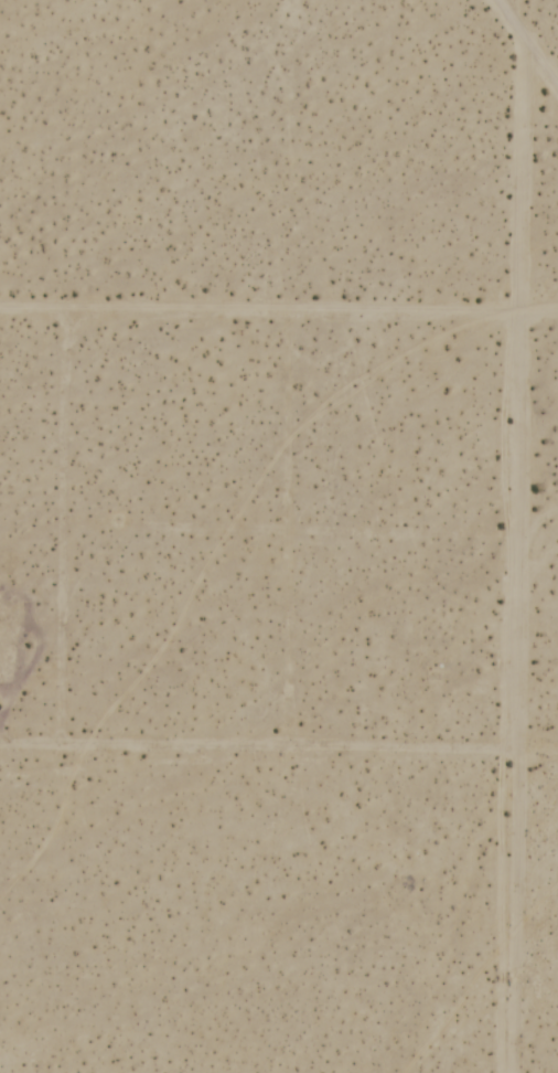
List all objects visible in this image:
road: (528, 40)
road: (279, 315)
road: (516, 694)

